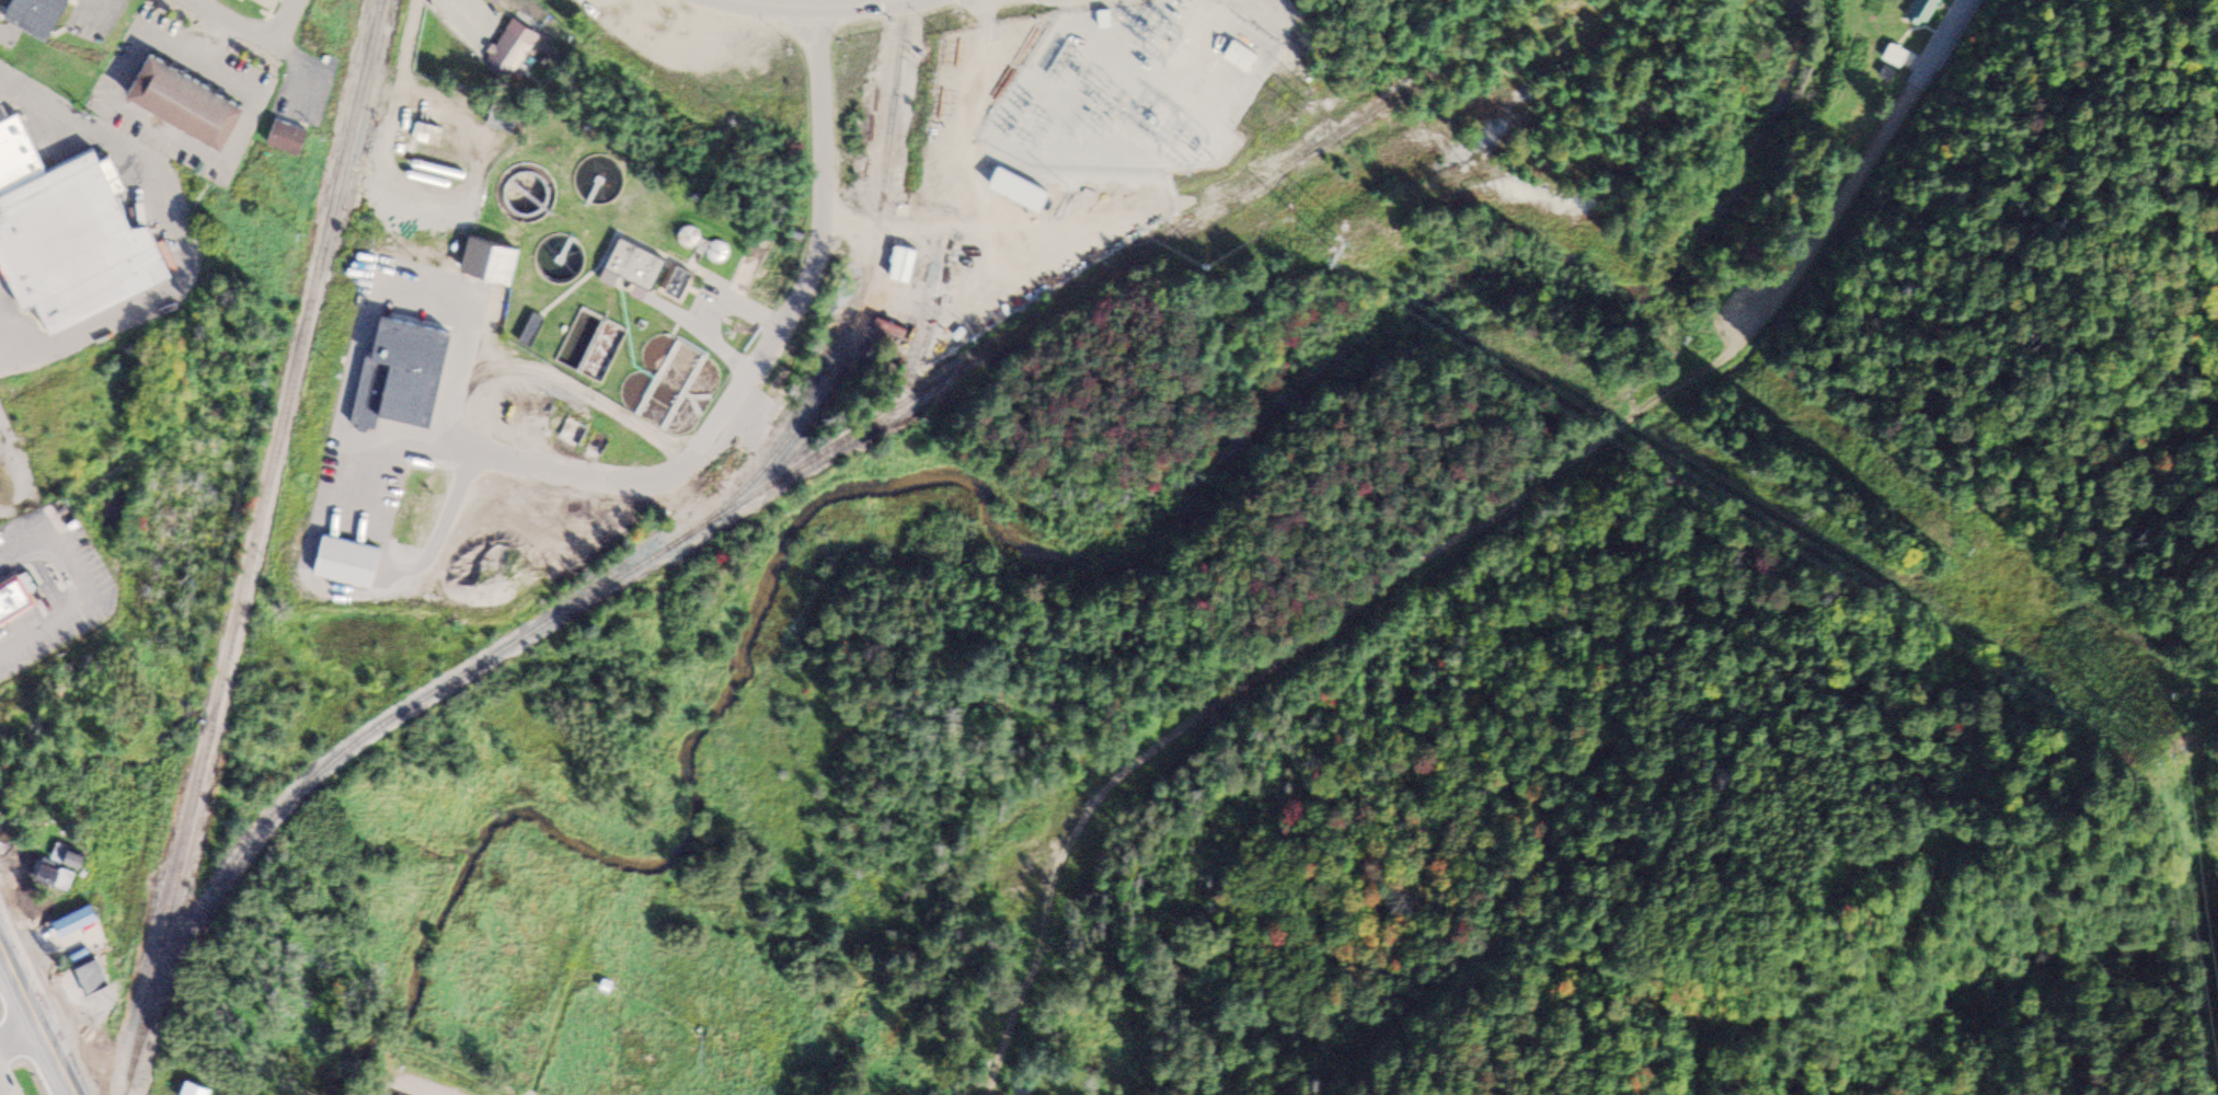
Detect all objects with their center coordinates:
road: (819, 5)
building: (1927, 11)
building: (42, 15)
road: (455, 20)
road: (246, 28)
building: (513, 49)
building: (1896, 57)
power substation: (1135, 89)
building: (196, 100)
building: (505, 118)
building: (430, 136)
building: (291, 140)
road: (1851, 174)
power tower: (1492, 181)
building: (1023, 188)
building: (531, 209)
building: (69, 233)
power tower: (1342, 245)
building: (562, 263)
building: (639, 265)
building: (906, 265)
wastewater plant: (627, 266)
railway: (854, 314)
road: (11, 326)
building: (411, 367)
railway: (794, 473)
railway: (253, 546)
river: (1128, 556)
building: (343, 558)
building: (14, 598)
road: (1283, 660)
power tower: (2174, 695)
power tower: (2184, 744)
building: (62, 865)
building: (78, 921)
river: (430, 945)
building: (94, 976)
road: (38, 1014)
river: (350, 1060)
building: (197, 1088)

